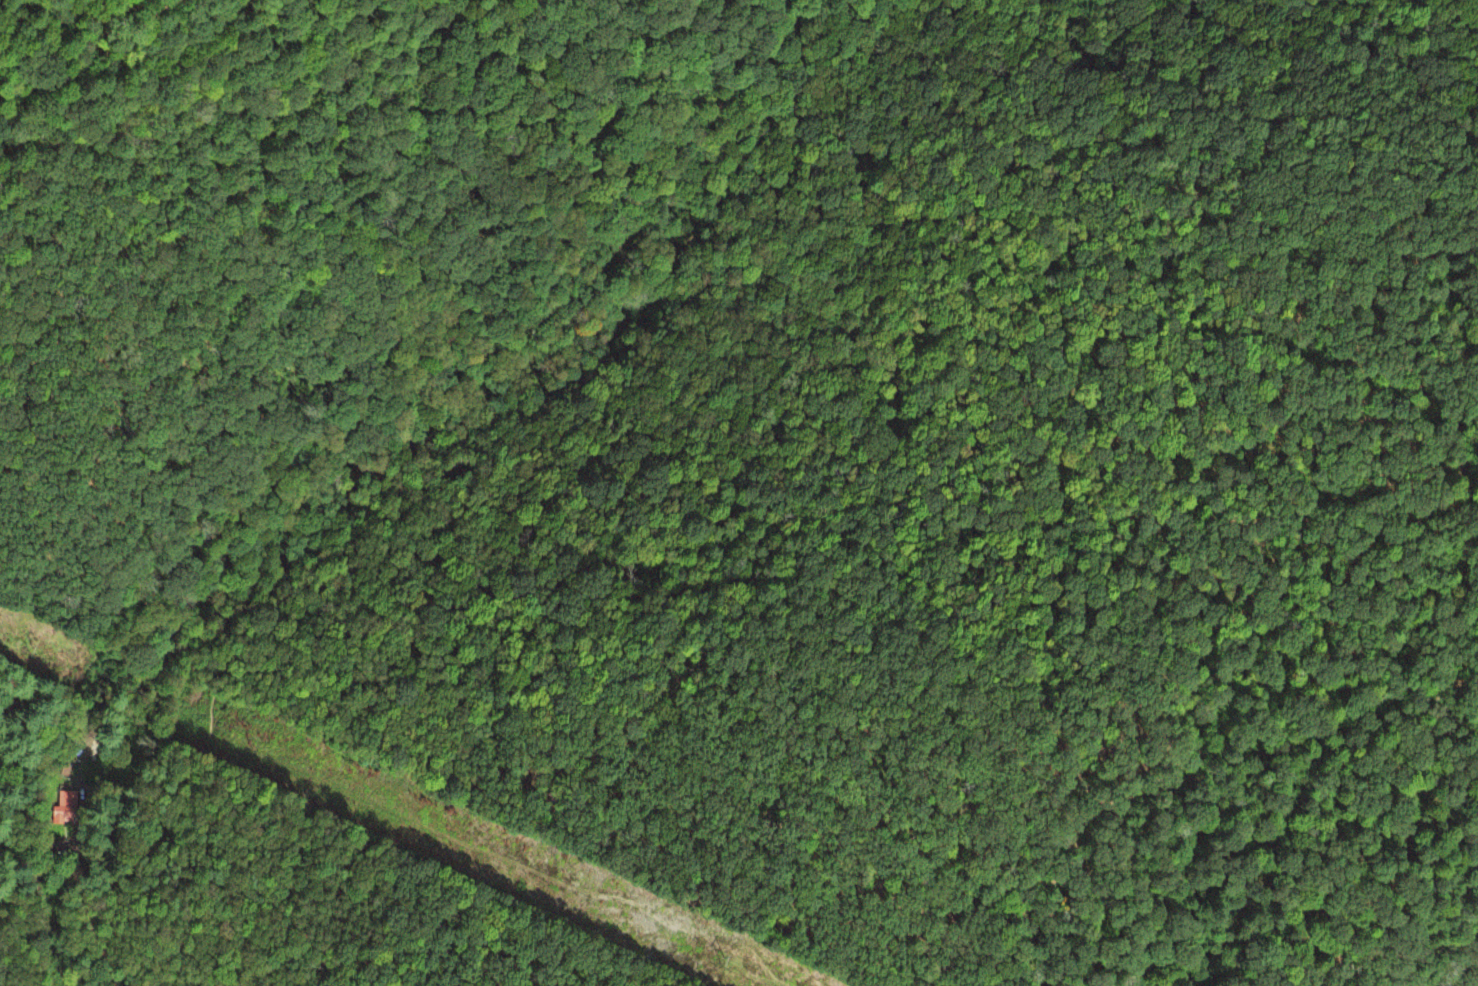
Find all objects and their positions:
road: (86, 909)

